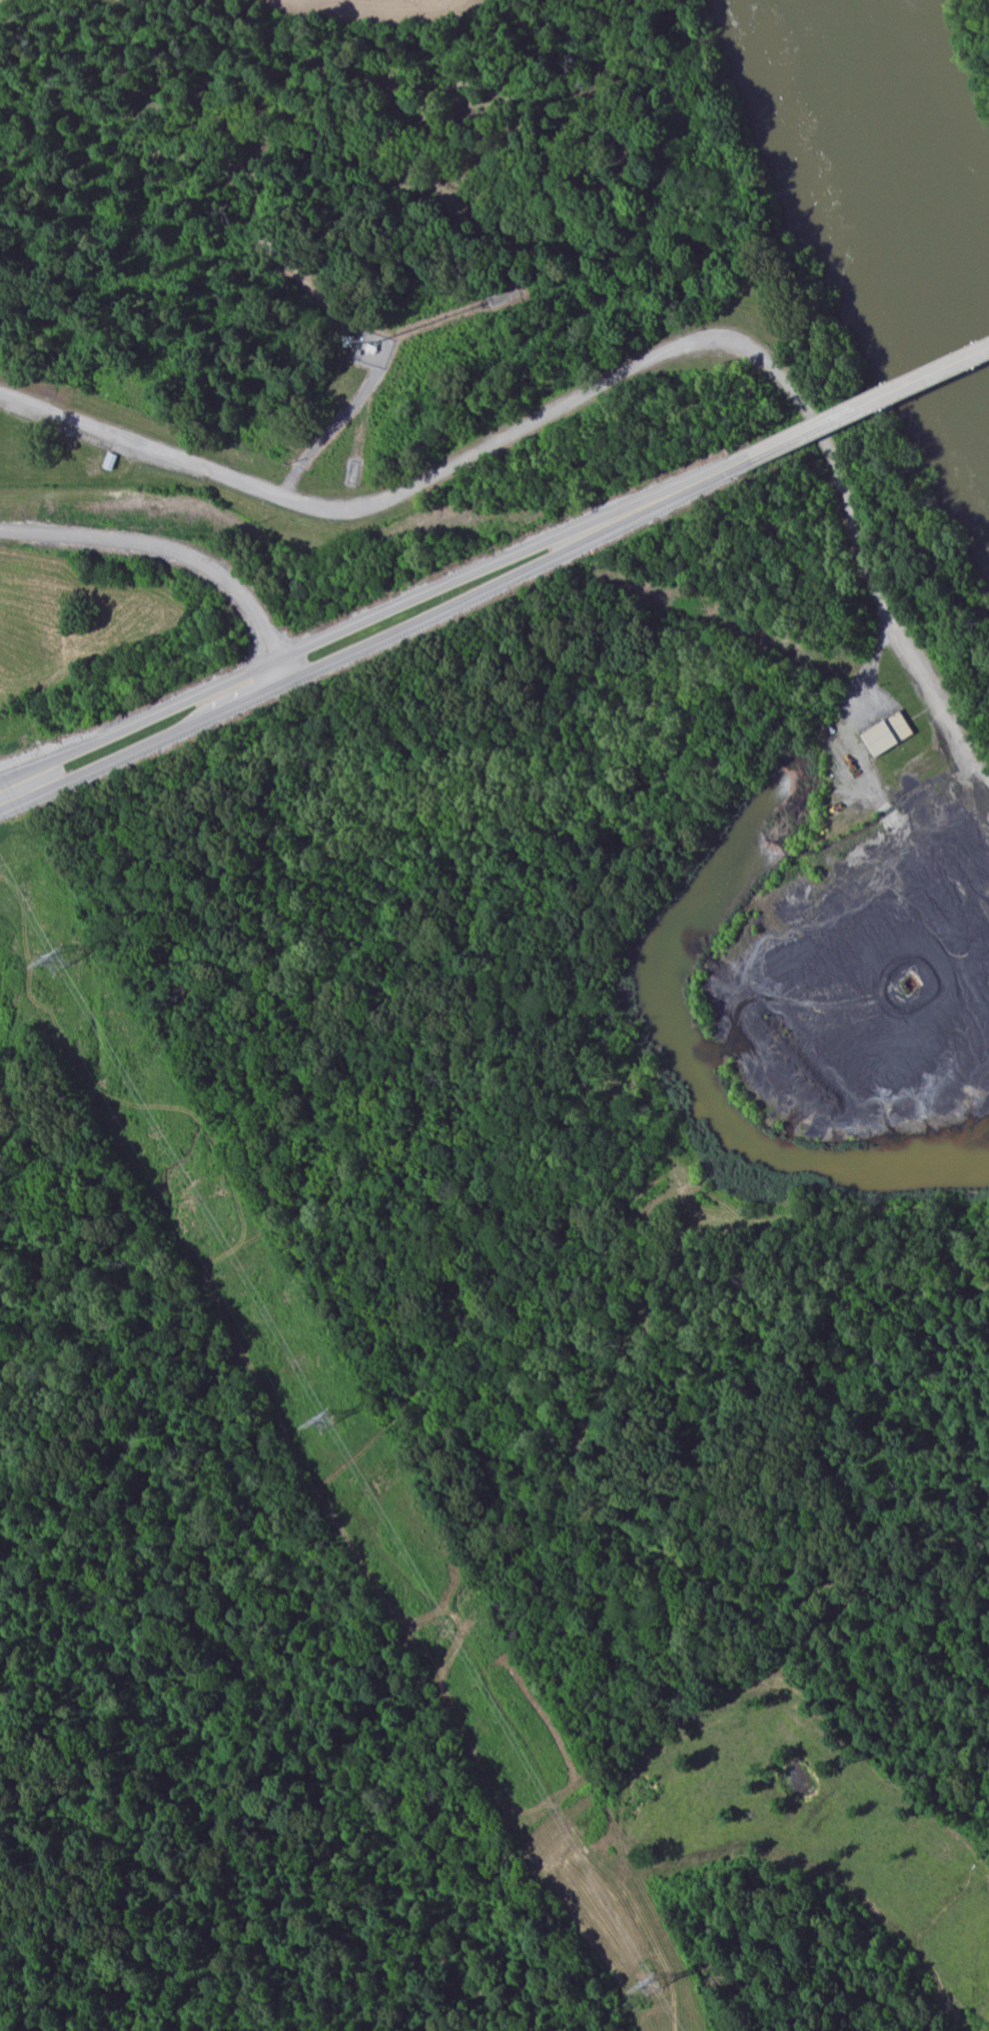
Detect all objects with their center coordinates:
river: (910, 165)
road: (604, 391)
road: (870, 407)
road: (165, 551)
road: (373, 622)
road: (377, 640)
road: (281, 674)
building: (887, 734)
power tower: (56, 962)
power tower: (321, 1423)
power tower: (649, 1987)

